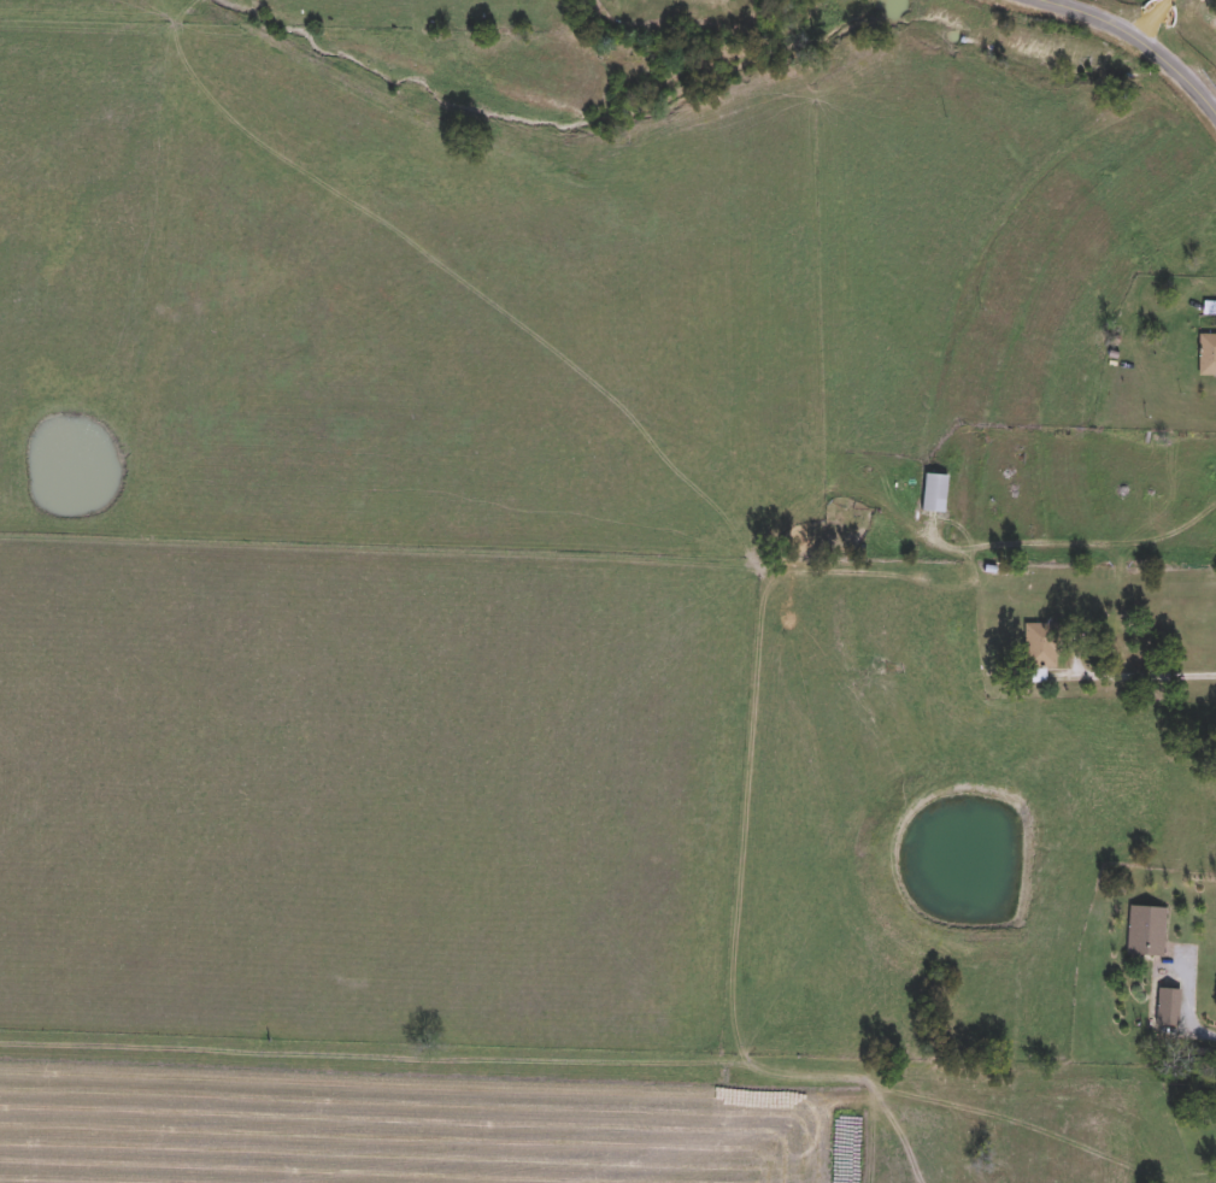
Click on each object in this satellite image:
road: (1151, 13)
road: (1138, 28)
building: (1206, 355)
building: (935, 494)
road: (1073, 537)
building: (1041, 646)
road: (1140, 672)
building: (1147, 931)
building: (1168, 1008)
road: (1183, 1018)

